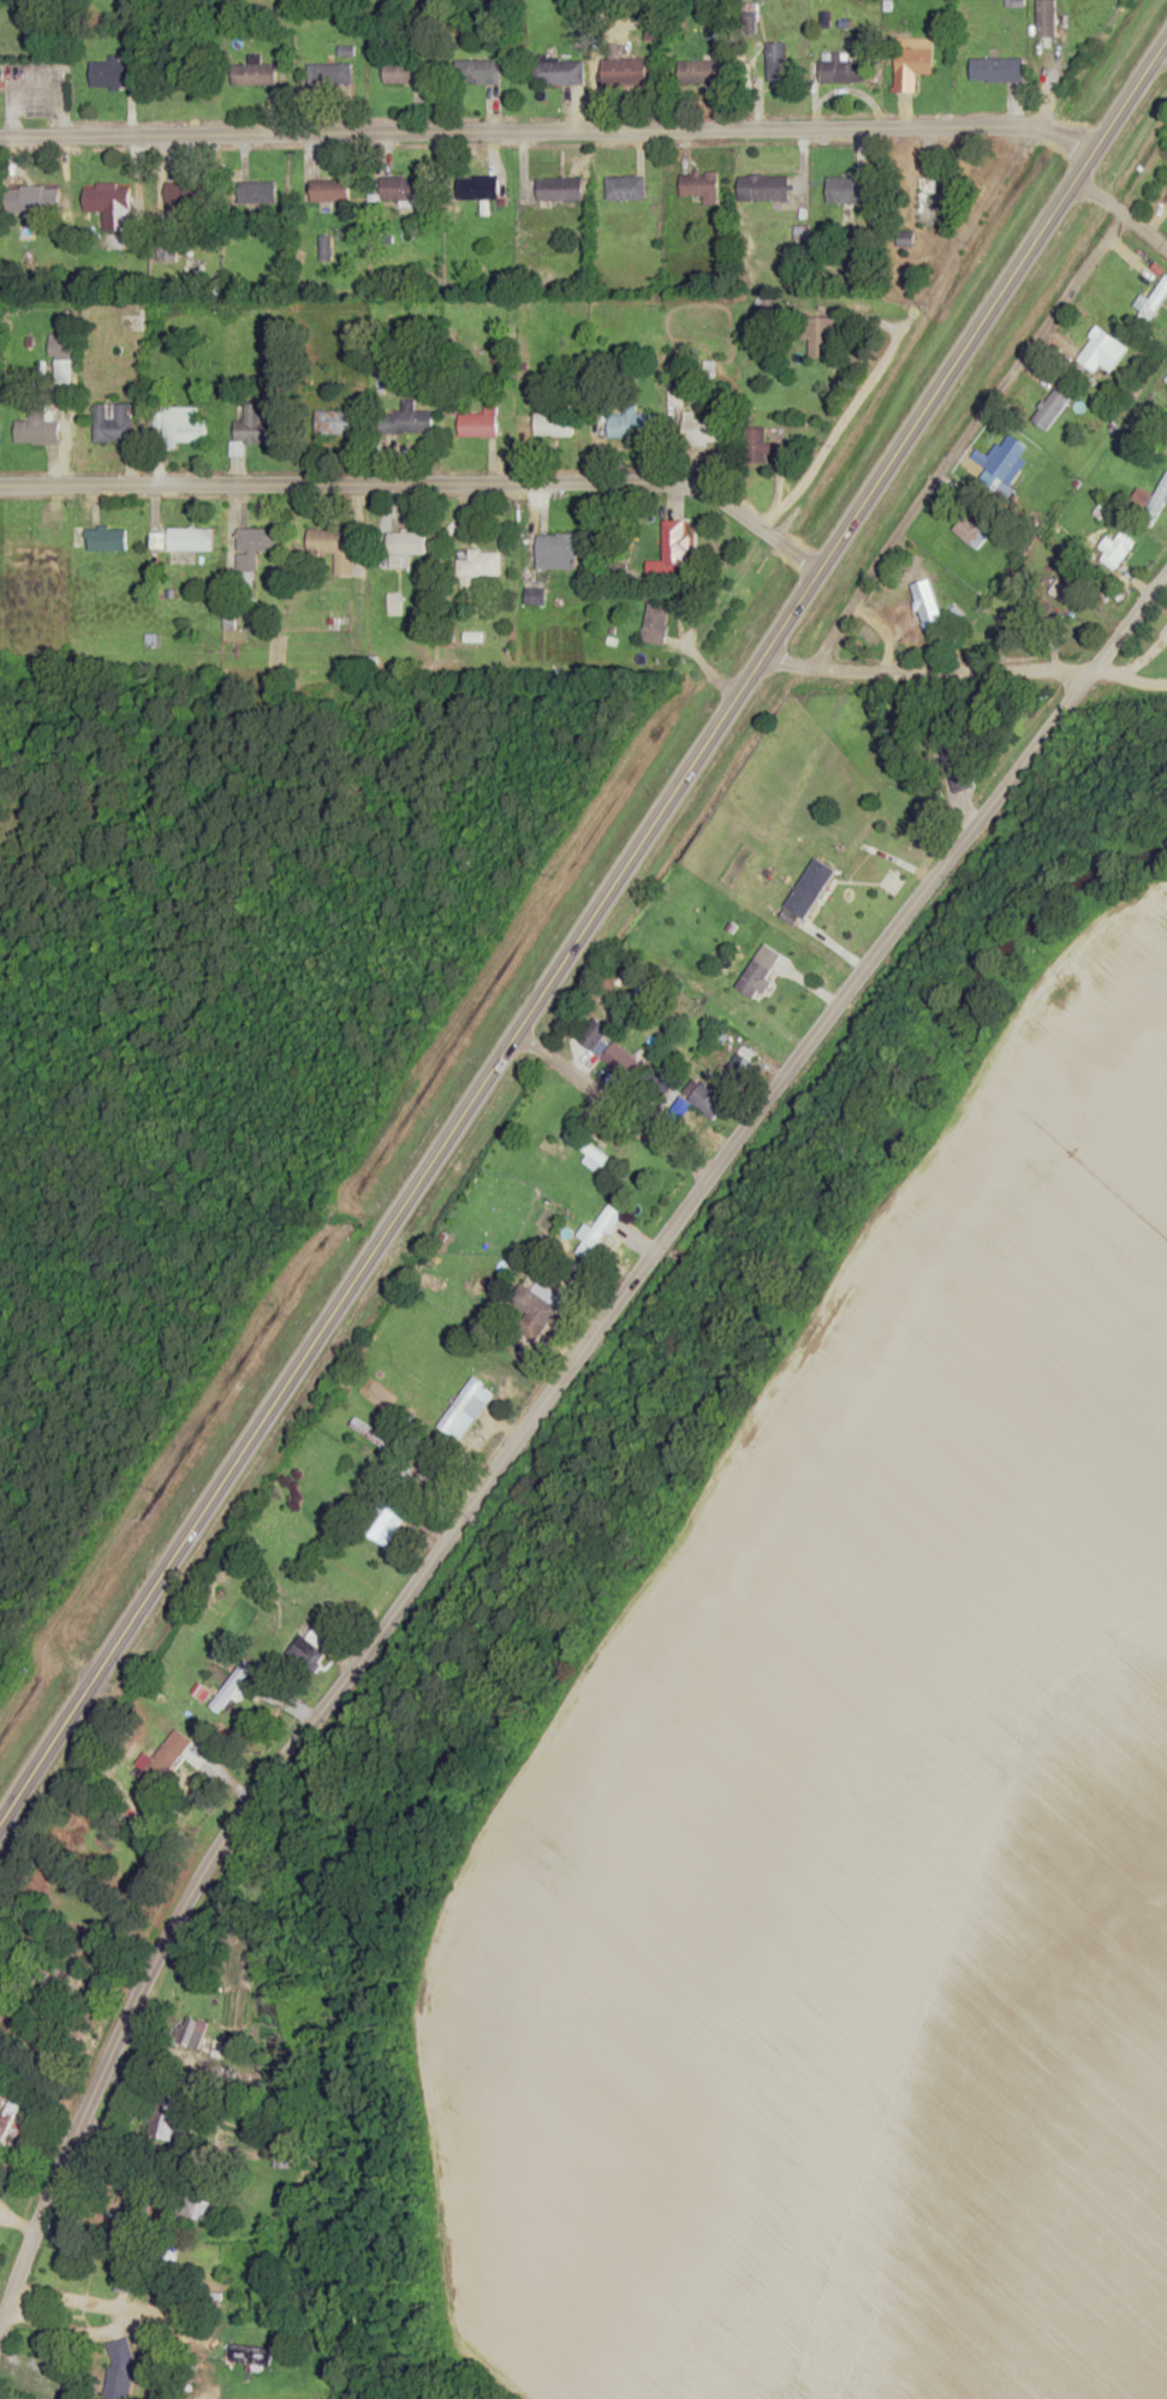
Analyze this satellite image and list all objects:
building: (1046, 19)
building: (776, 60)
building: (912, 62)
building: (996, 70)
building: (558, 71)
building: (627, 71)
building: (841, 71)
building: (403, 72)
building: (477, 72)
building: (699, 72)
building: (108, 73)
building: (255, 73)
building: (331, 75)
building: (0, 89)
road: (548, 132)
building: (698, 185)
building: (477, 187)
building: (625, 187)
building: (763, 187)
building: (401, 189)
building: (559, 190)
building: (840, 190)
building: (329, 191)
building: (256, 192)
building: (31, 200)
building: (181, 202)
building: (113, 207)
road: (1119, 219)
building: (115, 242)
building: (1154, 302)
building: (816, 335)
building: (60, 344)
building: (1101, 351)
building: (62, 370)
building: (1050, 409)
building: (406, 421)
building: (112, 422)
building: (333, 423)
building: (477, 423)
building: (553, 424)
building: (631, 424)
building: (183, 425)
building: (252, 428)
building: (36, 429)
building: (703, 430)
building: (760, 447)
road: (977, 450)
building: (1007, 457)
road: (422, 483)
building: (970, 532)
building: (107, 540)
building: (190, 540)
building: (405, 543)
building: (252, 546)
building: (333, 547)
building: (675, 547)
building: (555, 550)
building: (1115, 550)
building: (478, 564)
building: (535, 596)
building: (925, 606)
building: (655, 623)
road: (792, 665)
road: (955, 674)
road: (1127, 677)
building: (961, 775)
building: (817, 892)
road: (584, 928)
building: (754, 978)
building: (709, 1100)
road: (617, 1103)
building: (584, 1148)
building: (597, 1232)
building: (460, 1404)
road: (538, 1411)
building: (383, 1522)
building: (310, 1650)
building: (231, 1687)
road: (179, 1721)
building: (159, 1767)
building: (7, 2115)
building: (166, 2115)
building: (282, 2159)
building: (129, 2208)
building: (198, 2209)
road: (13, 2224)
building: (125, 2270)
building: (250, 2356)
building: (120, 2369)

